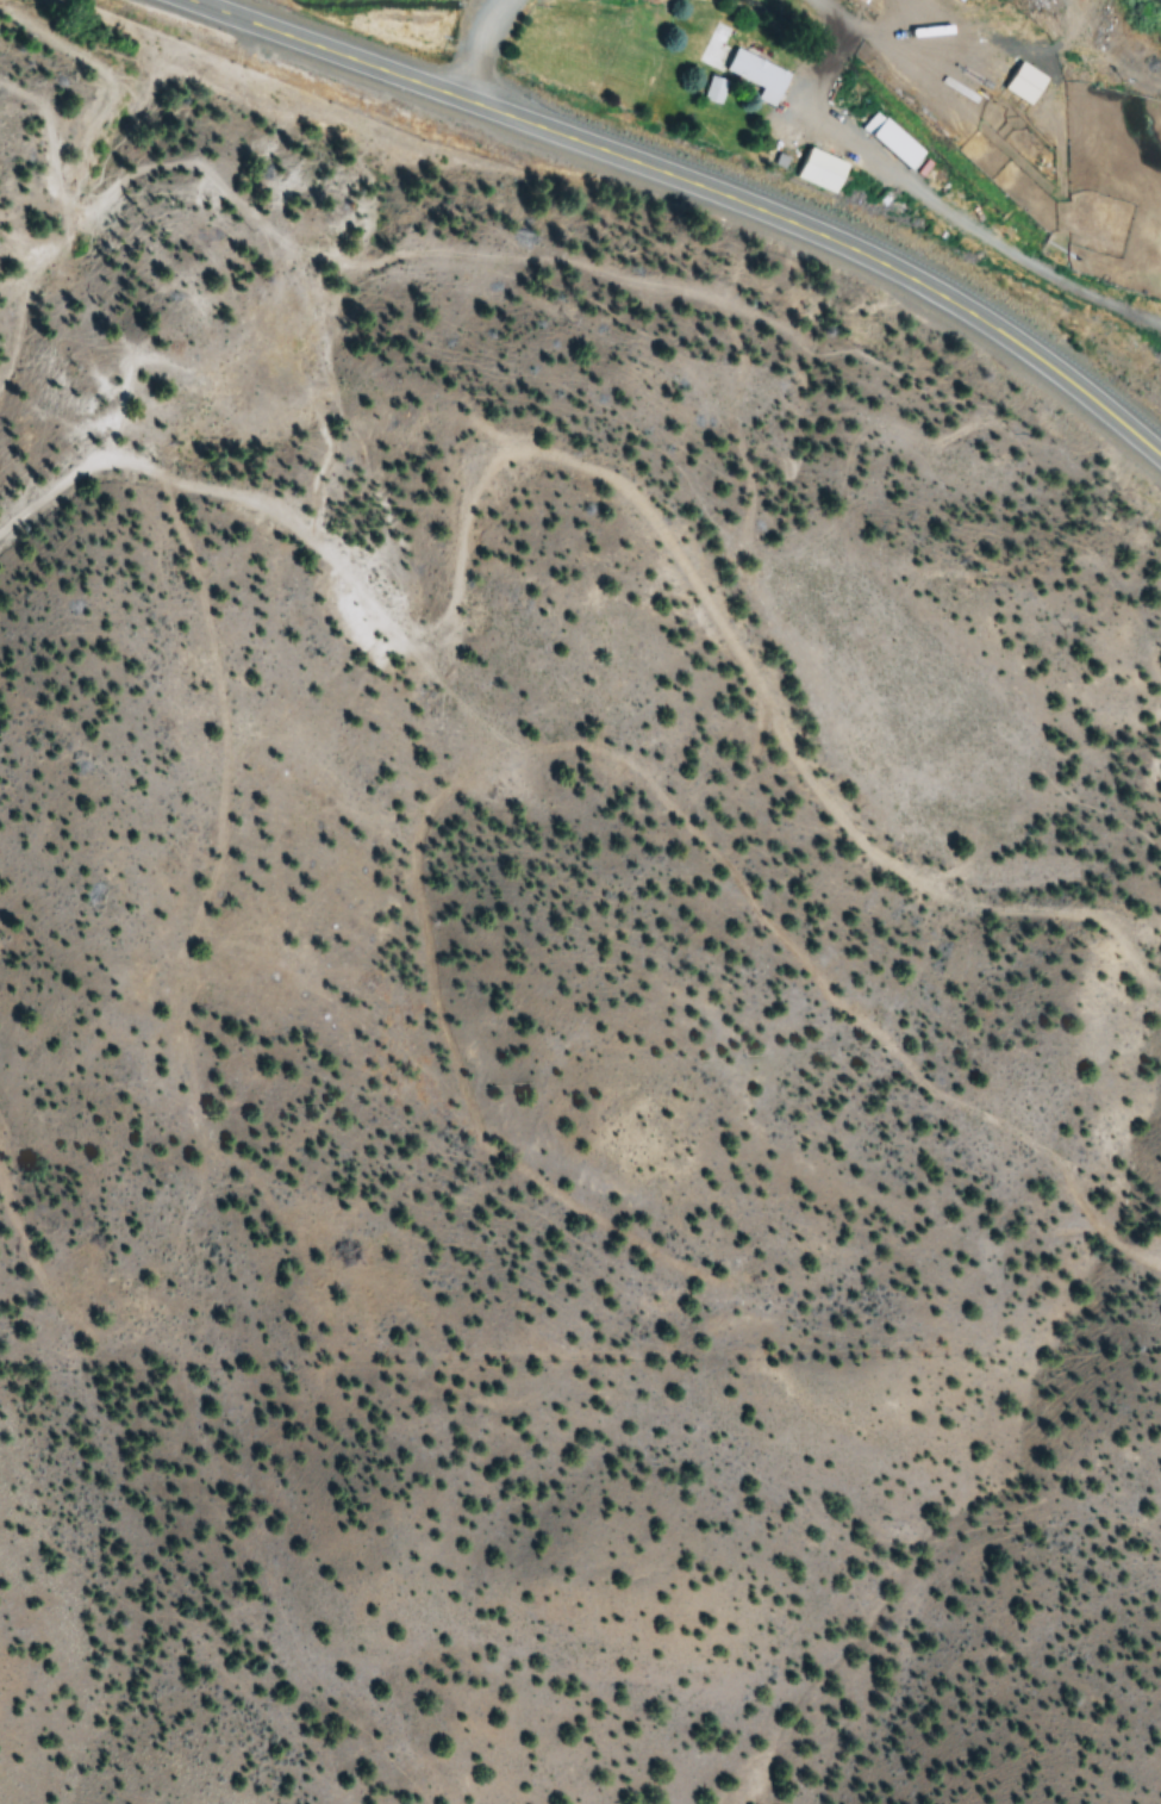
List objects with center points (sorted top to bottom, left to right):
road: (482, 45)
building: (757, 76)
building: (1022, 85)
building: (717, 92)
building: (894, 147)
building: (825, 172)
road: (697, 182)
road: (919, 194)

